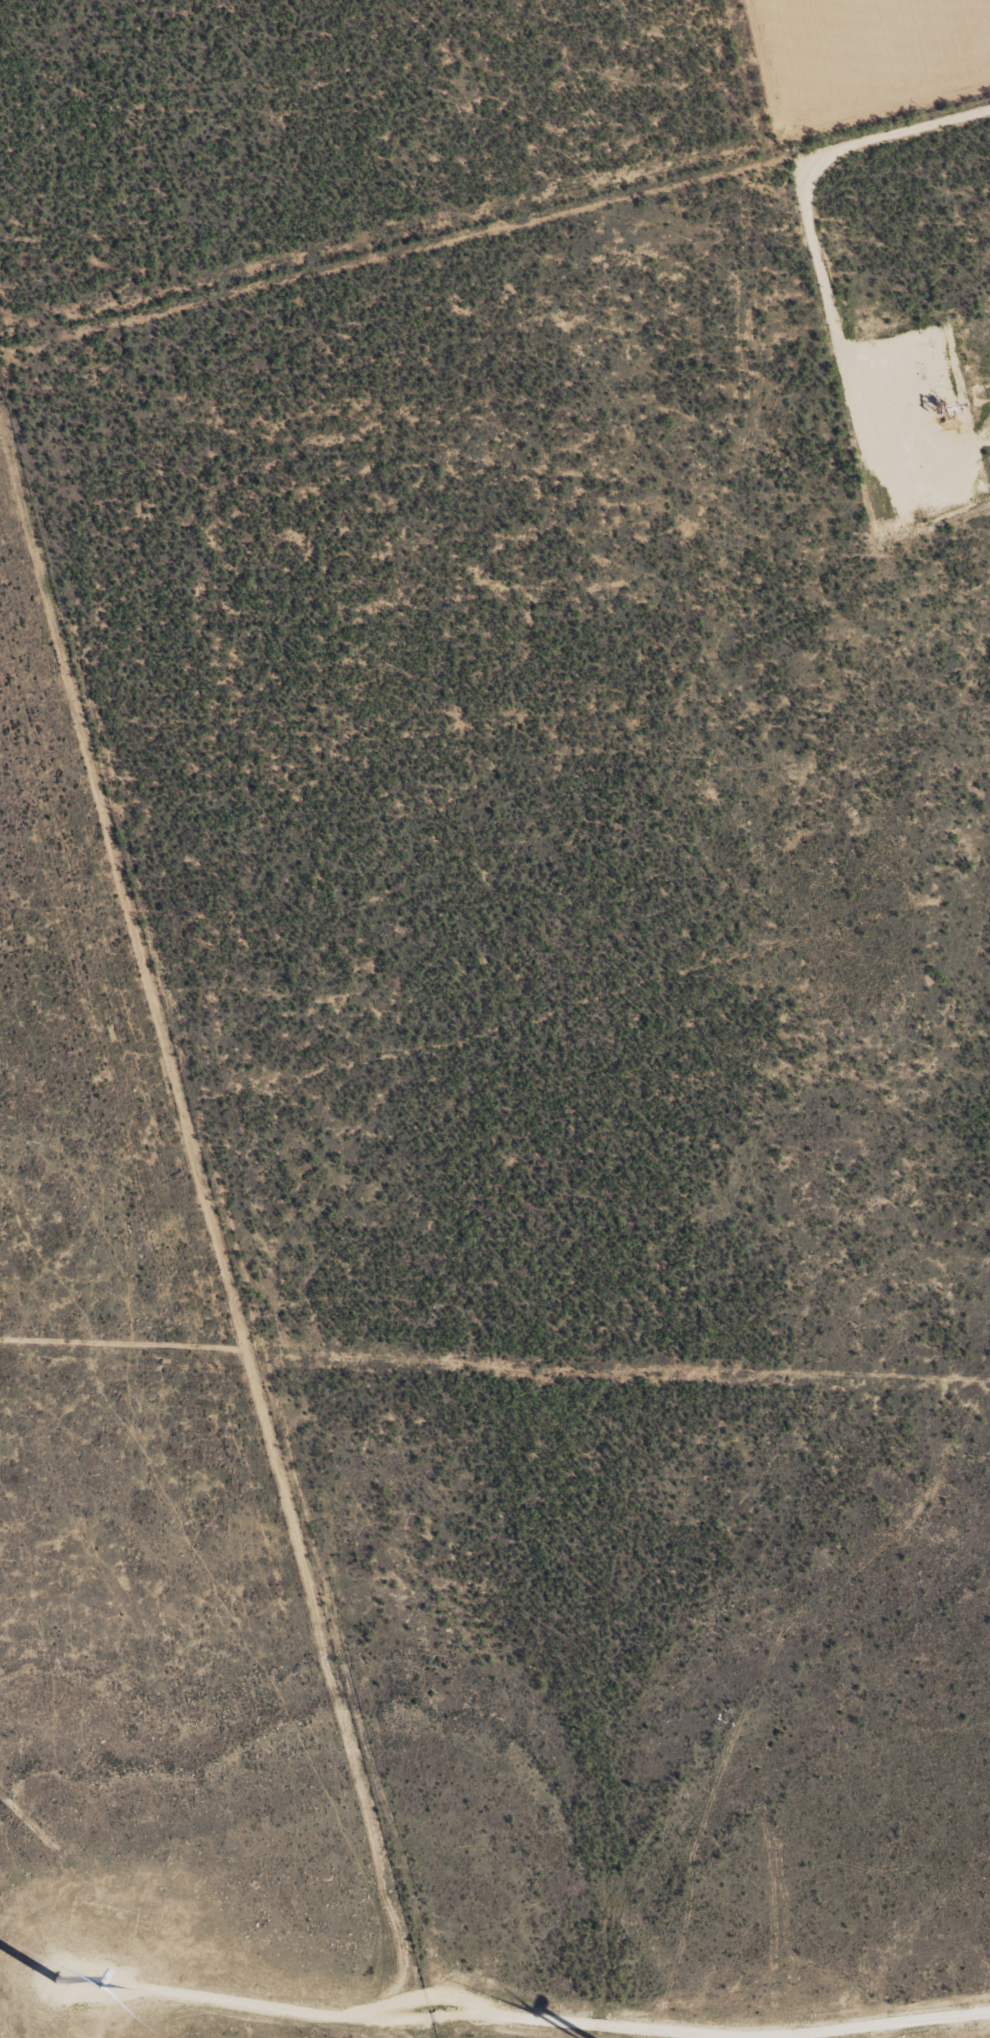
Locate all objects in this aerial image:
road: (160, 1880)
wind turbine: (56, 1979)

